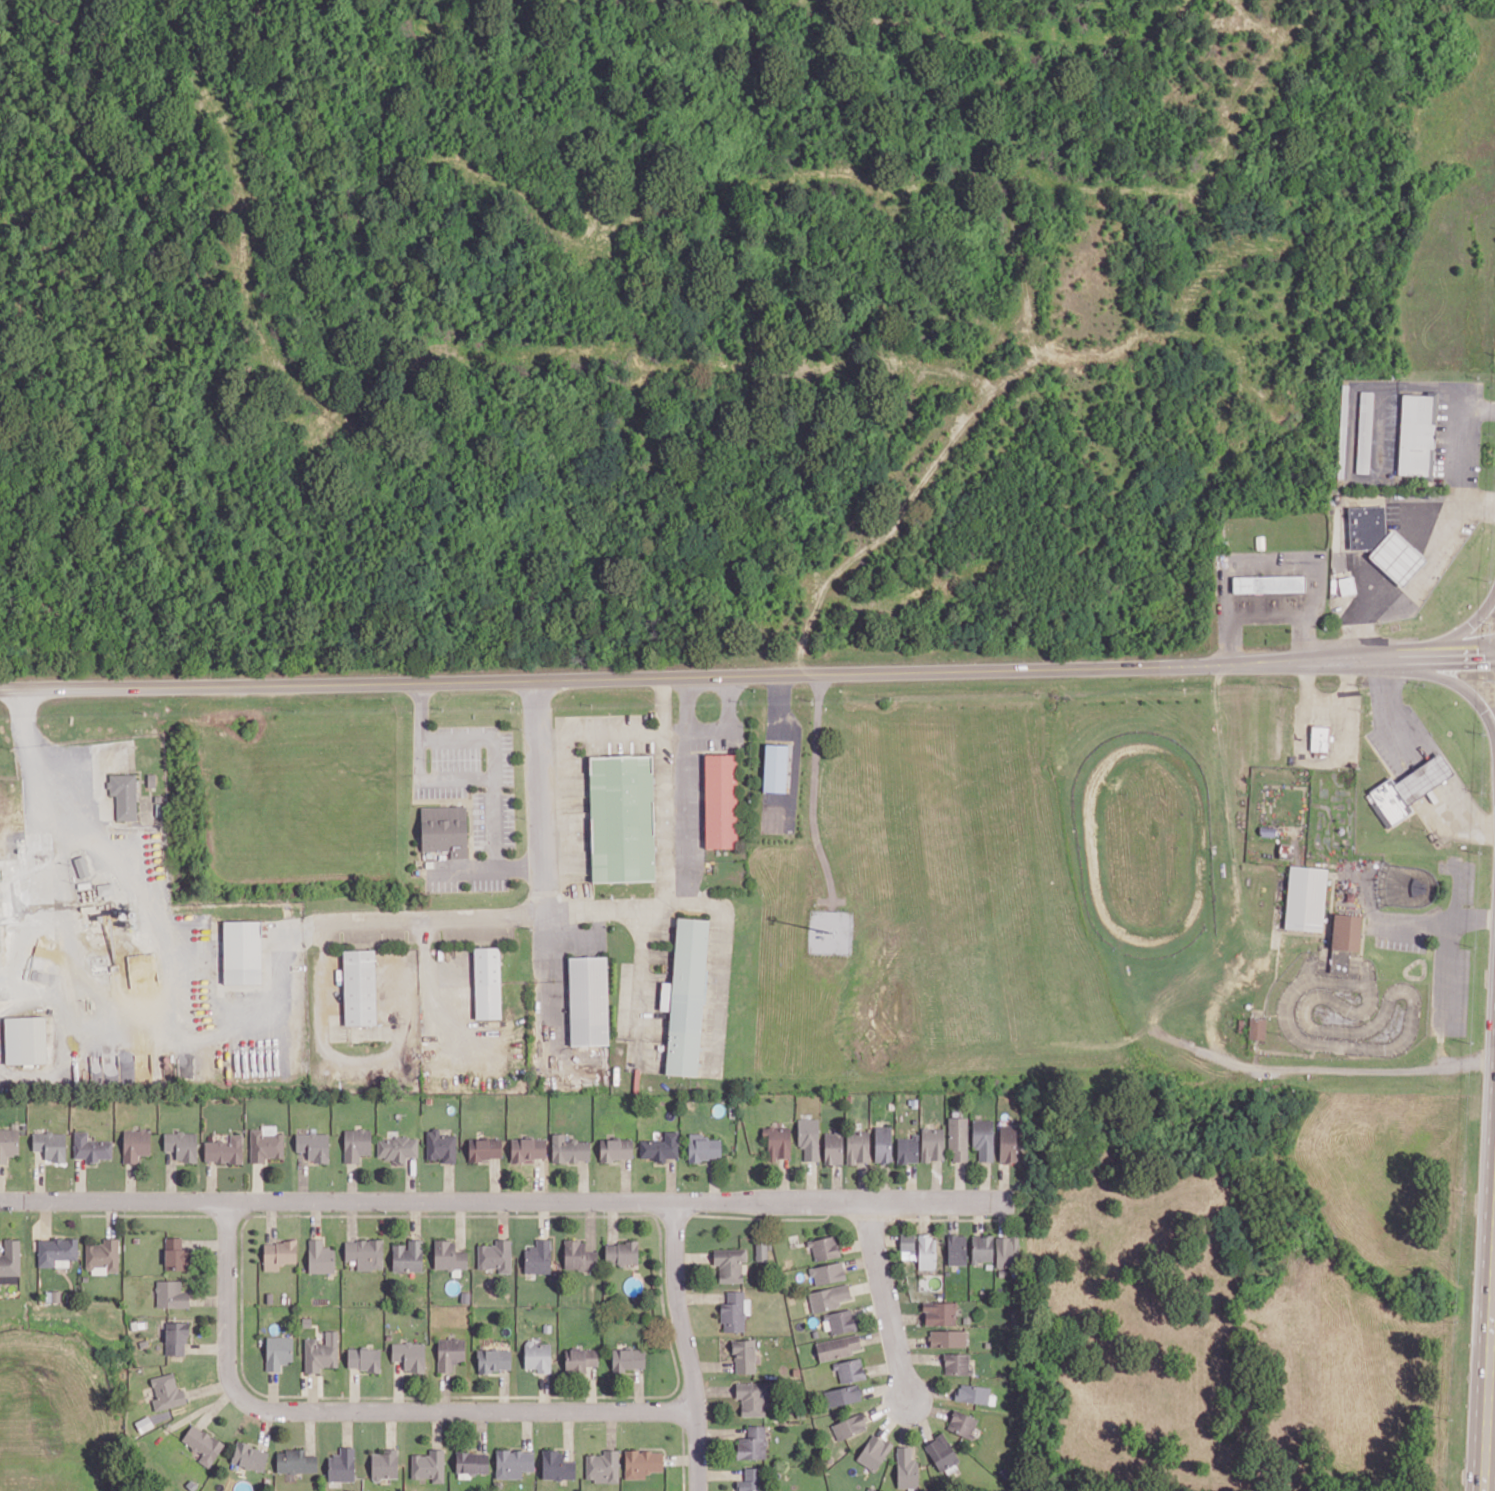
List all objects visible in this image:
building: (1364, 431)
building: (1417, 434)
road: (1480, 502)
building: (1382, 543)
road: (1447, 545)
building: (1268, 583)
building: (1346, 585)
road: (1442, 644)
road: (747, 675)
road: (1447, 678)
road: (1392, 716)
road: (707, 729)
road: (600, 733)
building: (1319, 740)
street lamp: (484, 757)
street lamp: (429, 758)
road: (499, 762)
road: (49, 766)
building: (775, 767)
road: (1429, 774)
road: (434, 782)
building: (1409, 788)
building: (124, 795)
building: (721, 800)
street lamp: (516, 815)
road: (1460, 815)
building: (622, 818)
road: (687, 826)
building: (444, 829)
building: (81, 866)
building: (106, 888)
street lamp: (492, 891)
theme park: (1259, 891)
street lamp: (441, 893)
building: (1305, 897)
road: (605, 908)
road: (1472, 914)
road: (1411, 924)
building: (1344, 940)
road: (1447, 944)
building: (242, 951)
road: (429, 978)
street lamp: (1289, 979)
road: (641, 980)
building: (487, 982)
road: (547, 983)
road: (283, 984)
building: (359, 987)
building: (686, 997)
street lamp: (1357, 997)
building: (588, 1000)
street lamp: (1402, 1001)
street lamp: (1325, 1010)
street lamp: (1354, 1020)
building: (1256, 1028)
street lamp: (1389, 1031)
building: (25, 1039)
street lamp: (1308, 1050)
street lamp: (1348, 1054)
building: (809, 1138)
building: (958, 1138)
building: (983, 1138)
building: (778, 1142)
building: (8, 1143)
building: (265, 1143)
building: (882, 1143)
building: (1007, 1143)
building: (135, 1144)
building: (357, 1144)
building: (932, 1144)
building: (50, 1145)
building: (182, 1145)
building: (313, 1145)
building: (441, 1146)
building: (857, 1146)
building: (91, 1147)
building: (660, 1147)
building: (704, 1147)
building: (396, 1148)
building: (485, 1148)
building: (528, 1148)
building: (833, 1148)
building: (569, 1149)
building: (616, 1149)
building: (907, 1149)
building: (224, 1150)
street lamp: (844, 1185)
road: (506, 1200)
street lamp: (996, 1213)
building: (908, 1246)
building: (824, 1247)
building: (982, 1248)
building: (956, 1249)
building: (761, 1250)
building: (57, 1251)
building: (1006, 1251)
building: (621, 1252)
building: (926, 1252)
building: (365, 1253)
building: (175, 1254)
building: (279, 1254)
building: (495, 1255)
building: (102, 1256)
building: (407, 1256)
building: (579, 1256)
building: (320, 1257)
building: (538, 1257)
building: (10, 1261)
building: (730, 1264)
building: (828, 1273)
street lamp: (865, 1276)
street lamp: (687, 1286)
building: (171, 1294)
building: (828, 1297)
road: (887, 1302)
building: (734, 1312)
building: (939, 1313)
building: (838, 1321)
building: (176, 1337)
building: (948, 1338)
road: (687, 1345)
building: (837, 1347)
building: (278, 1351)
building: (321, 1352)
building: (450, 1353)
building: (409, 1355)
building: (744, 1355)
building: (538, 1356)
building: (628, 1358)
building: (364, 1359)
building: (580, 1359)
building: (494, 1360)
road: (1493, 1362)
building: (957, 1363)
building: (850, 1370)
road: (1490, 1383)
building: (167, 1392)
building: (975, 1394)
building: (842, 1395)
building: (753, 1398)
road: (366, 1412)
building: (144, 1423)
building: (962, 1423)
building: (849, 1426)
building: (752, 1443)
building: (203, 1444)
building: (874, 1452)
building: (941, 1452)
building: (250, 1456)
building: (295, 1461)
building: (472, 1462)
building: (513, 1463)
building: (642, 1463)
building: (385, 1464)
building: (342, 1465)
building: (428, 1465)
building: (557, 1465)
building: (603, 1466)
building: (906, 1468)
building: (751, 1480)

